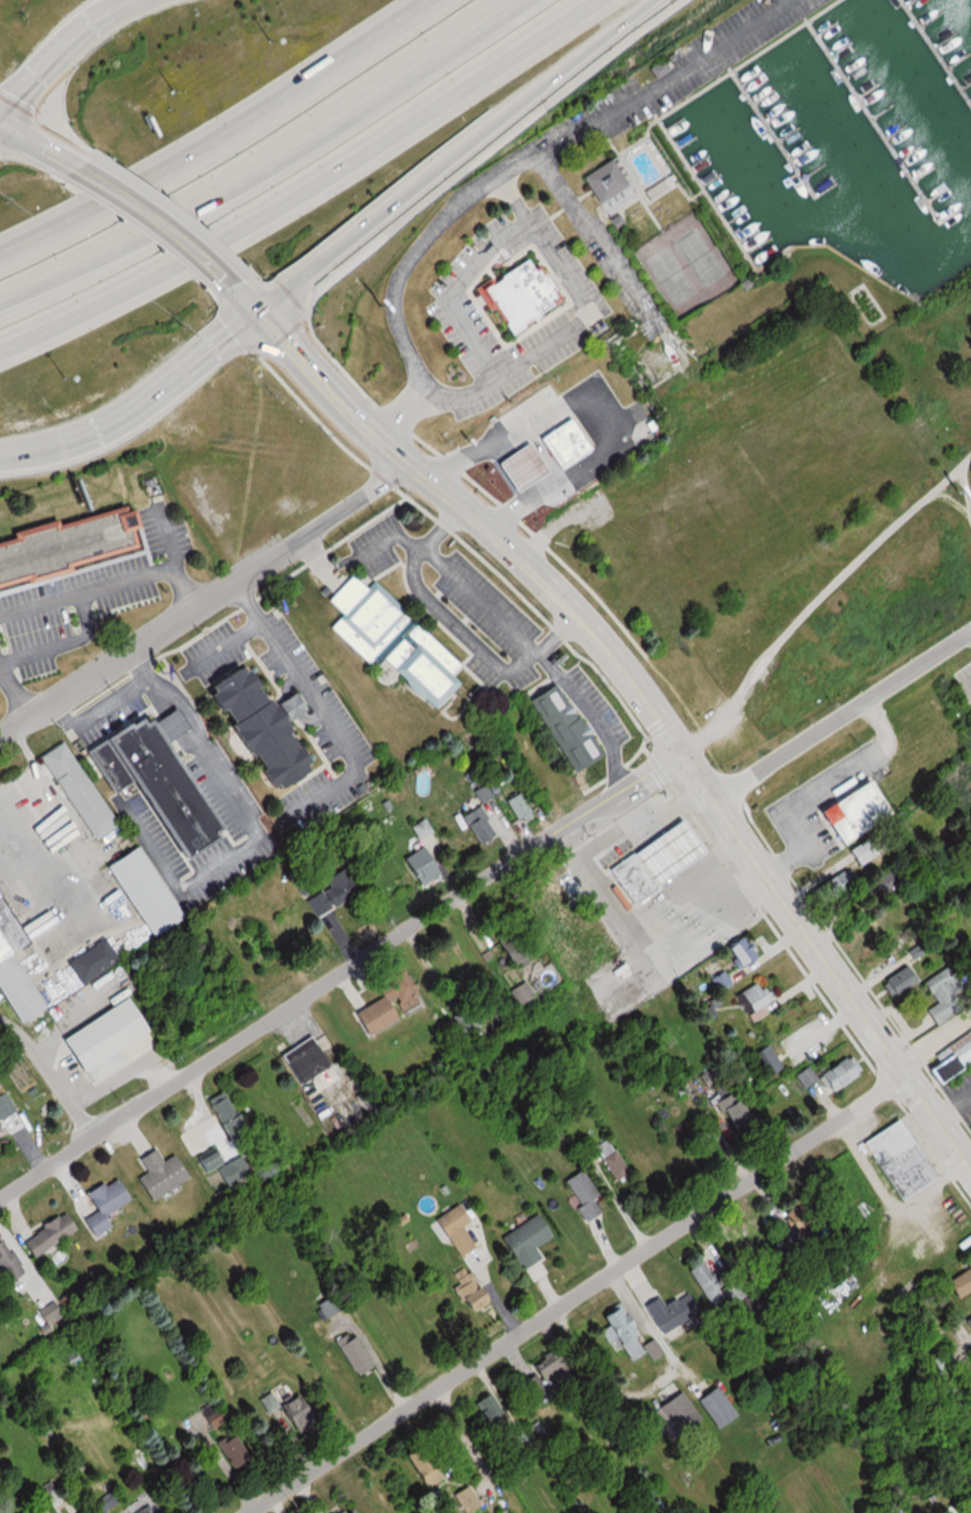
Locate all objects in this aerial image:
pier: (935, 52)
road: (63, 53)
building: (657, 68)
road: (663, 77)
pier: (870, 119)
pier: (773, 134)
road: (233, 139)
road: (44, 152)
road: (446, 157)
road: (268, 164)
building: (608, 184)
road: (312, 190)
road: (160, 227)
road: (602, 240)
park: (686, 264)
road: (397, 271)
road: (457, 292)
building: (519, 295)
road: (578, 324)
road: (139, 406)
building: (845, 428)
building: (560, 442)
building: (517, 466)
road: (381, 543)
building: (68, 547)
road: (173, 559)
road: (88, 593)
road: (203, 601)
building: (362, 617)
road: (501, 621)
road: (64, 645)
road: (225, 647)
building: (417, 666)
road: (13, 691)
road: (638, 693)
road: (316, 710)
road: (99, 713)
road: (842, 716)
road: (589, 717)
building: (560, 727)
building: (265, 731)
building: (162, 779)
building: (73, 792)
building: (518, 807)
building: (853, 814)
building: (480, 816)
road: (252, 829)
building: (862, 849)
building: (662, 851)
building: (419, 867)
building: (629, 876)
building: (890, 880)
building: (833, 885)
building: (140, 889)
building: (330, 891)
building: (531, 898)
building: (512, 946)
building: (737, 951)
building: (90, 960)
road: (339, 974)
building: (13, 977)
building: (941, 990)
building: (405, 998)
building: (752, 999)
building: (98, 1040)
building: (948, 1057)
building: (302, 1059)
building: (764, 1060)
building: (836, 1072)
road: (50, 1073)
building: (800, 1076)
building: (727, 1104)
building: (4, 1105)
building: (970, 1125)
building: (0, 1132)
building: (613, 1163)
building: (900, 1163)
building: (157, 1173)
building: (581, 1196)
building: (102, 1205)
building: (454, 1229)
building: (46, 1233)
building: (756, 1235)
building: (523, 1240)
building: (6, 1262)
building: (959, 1283)
building: (716, 1284)
building: (465, 1288)
road: (573, 1293)
building: (670, 1310)
building: (48, 1312)
building: (968, 1323)
building: (617, 1332)
building: (651, 1348)
building: (351, 1351)
building: (942, 1359)
building: (541, 1379)
building: (713, 1407)
building: (287, 1409)
building: (487, 1411)
building: (211, 1412)
building: (672, 1415)
building: (231, 1451)
building: (417, 1465)
building: (99, 1496)
building: (464, 1499)
building: (142, 1509)
building: (346, 1510)

